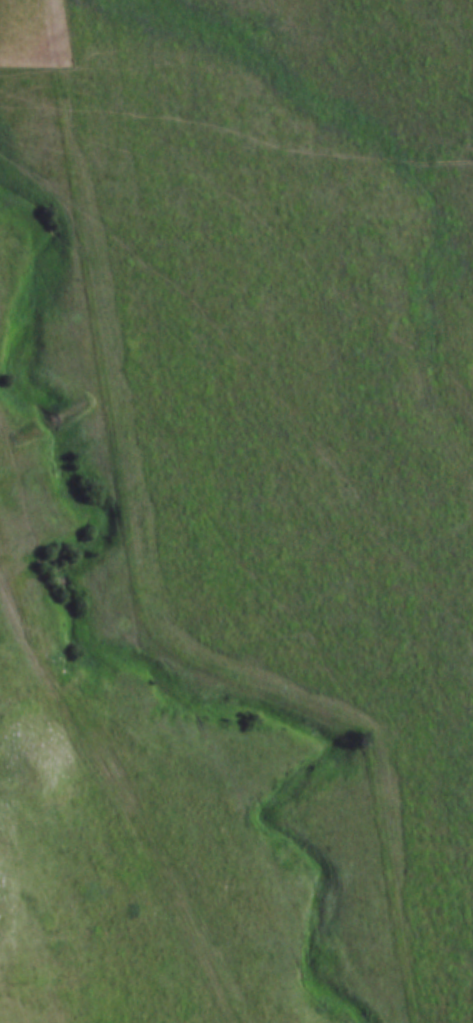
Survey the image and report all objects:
road: (124, 760)

